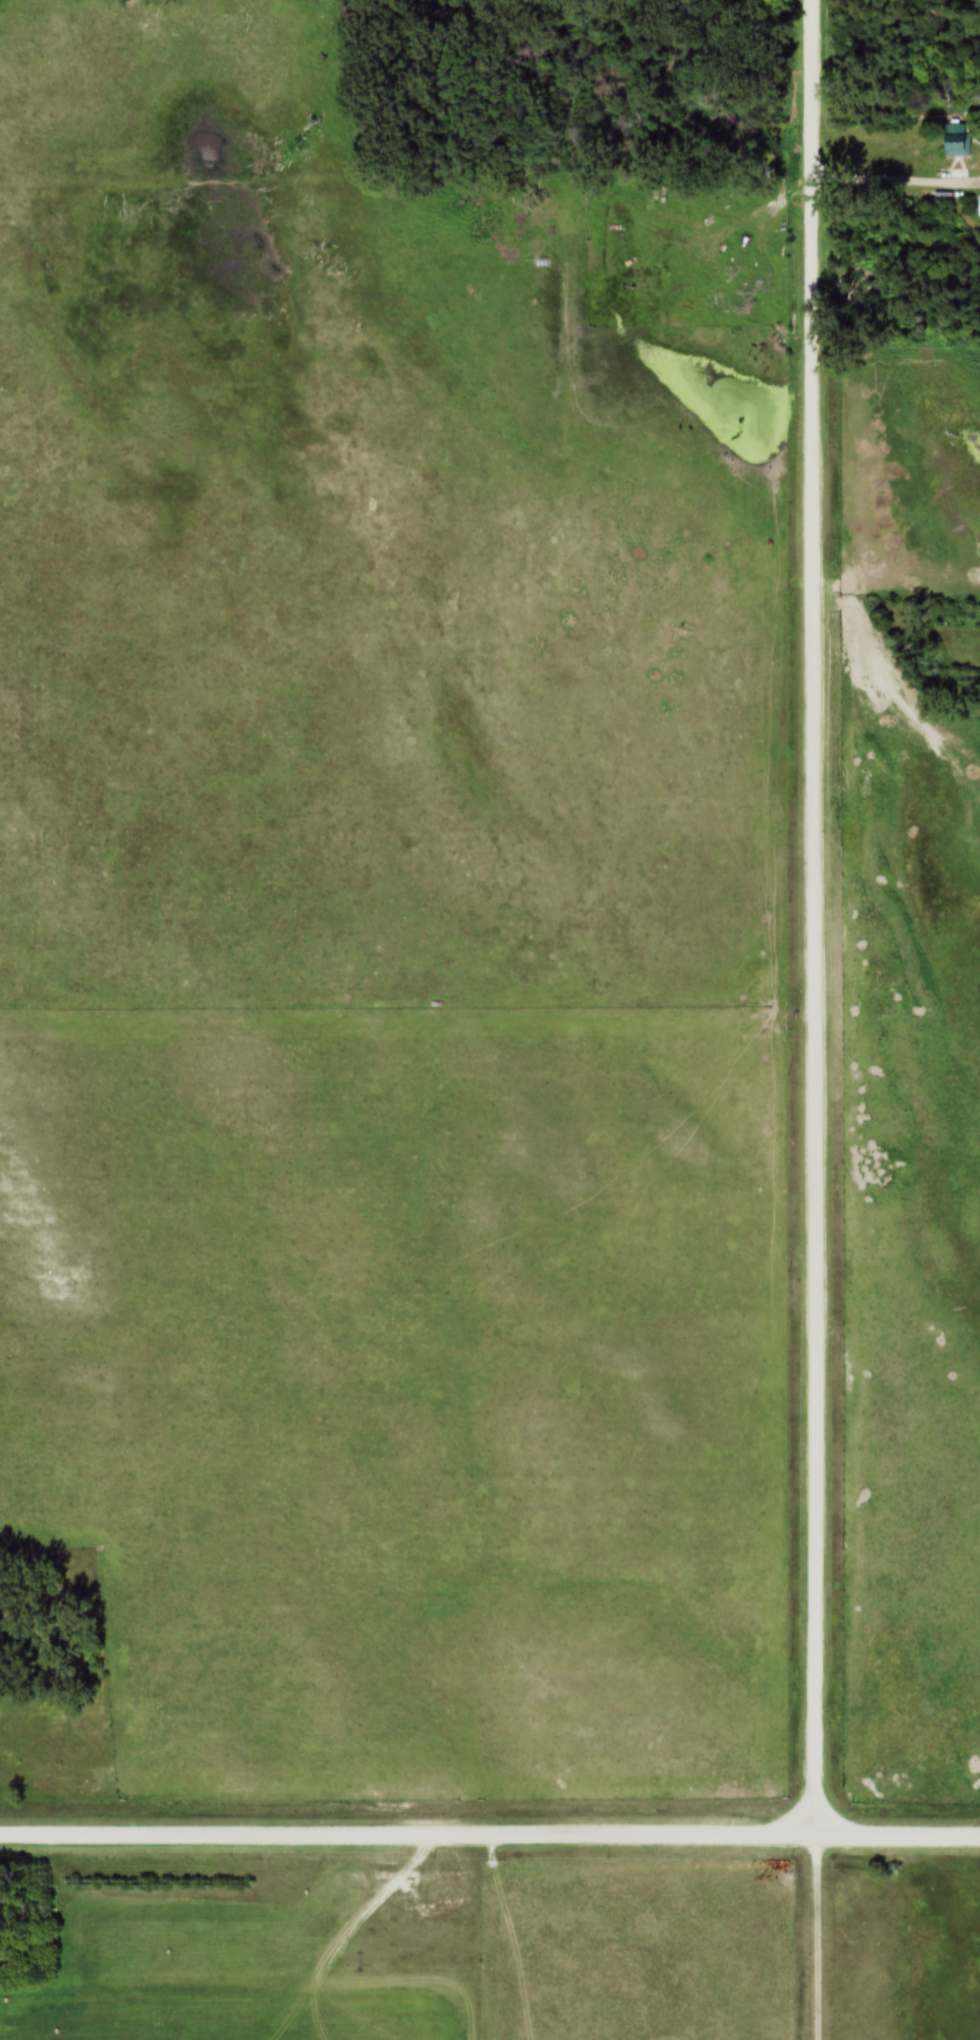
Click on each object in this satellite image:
building: (955, 139)
road: (896, 180)
building: (979, 205)
building: (752, 296)
road: (816, 1019)
road: (490, 1833)

